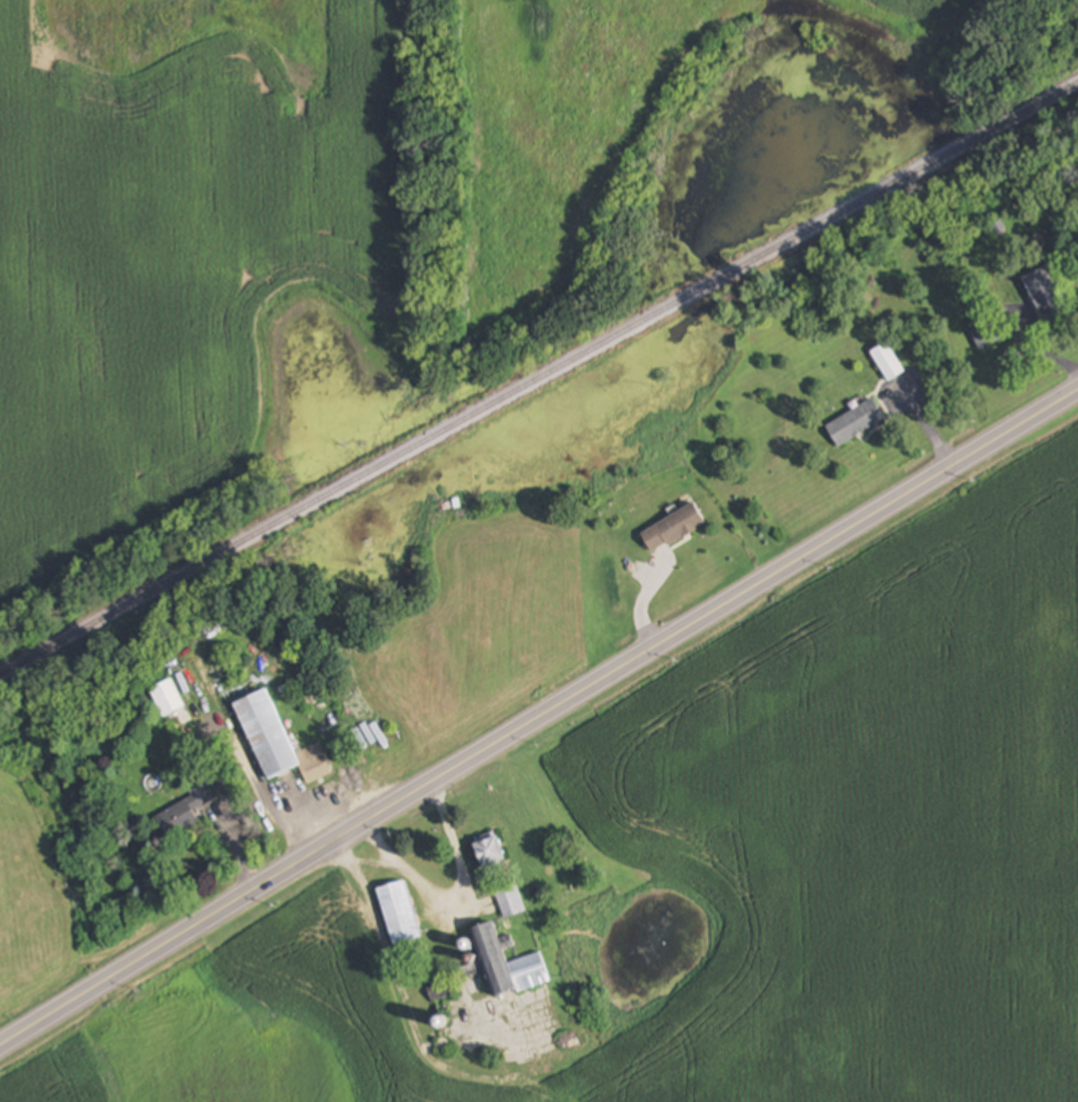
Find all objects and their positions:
building: (1046, 295)
building: (984, 335)
building: (888, 362)
railway: (539, 378)
building: (856, 423)
building: (674, 530)
building: (169, 699)
road: (539, 718)
building: (278, 742)
building: (182, 813)
building: (493, 852)
building: (511, 900)
building: (400, 912)
building: (508, 963)

